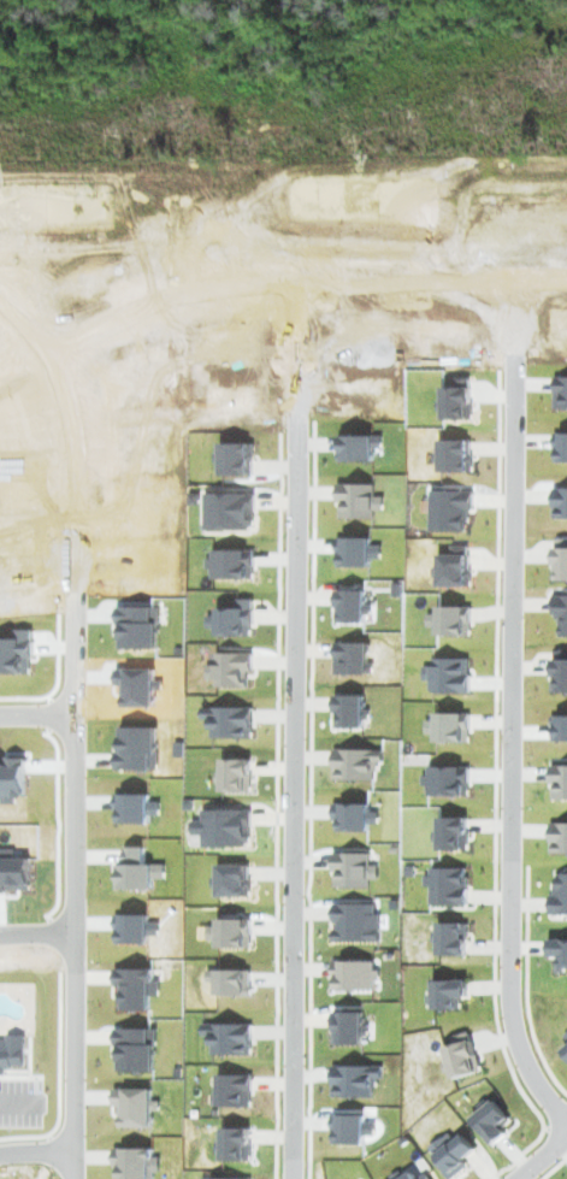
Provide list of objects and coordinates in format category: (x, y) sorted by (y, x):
road: (300, 283)
road: (509, 708)
road: (36, 715)
road: (73, 726)
road: (293, 731)
road: (36, 935)
road: (18, 1104)
road: (36, 1153)
road: (536, 1155)

